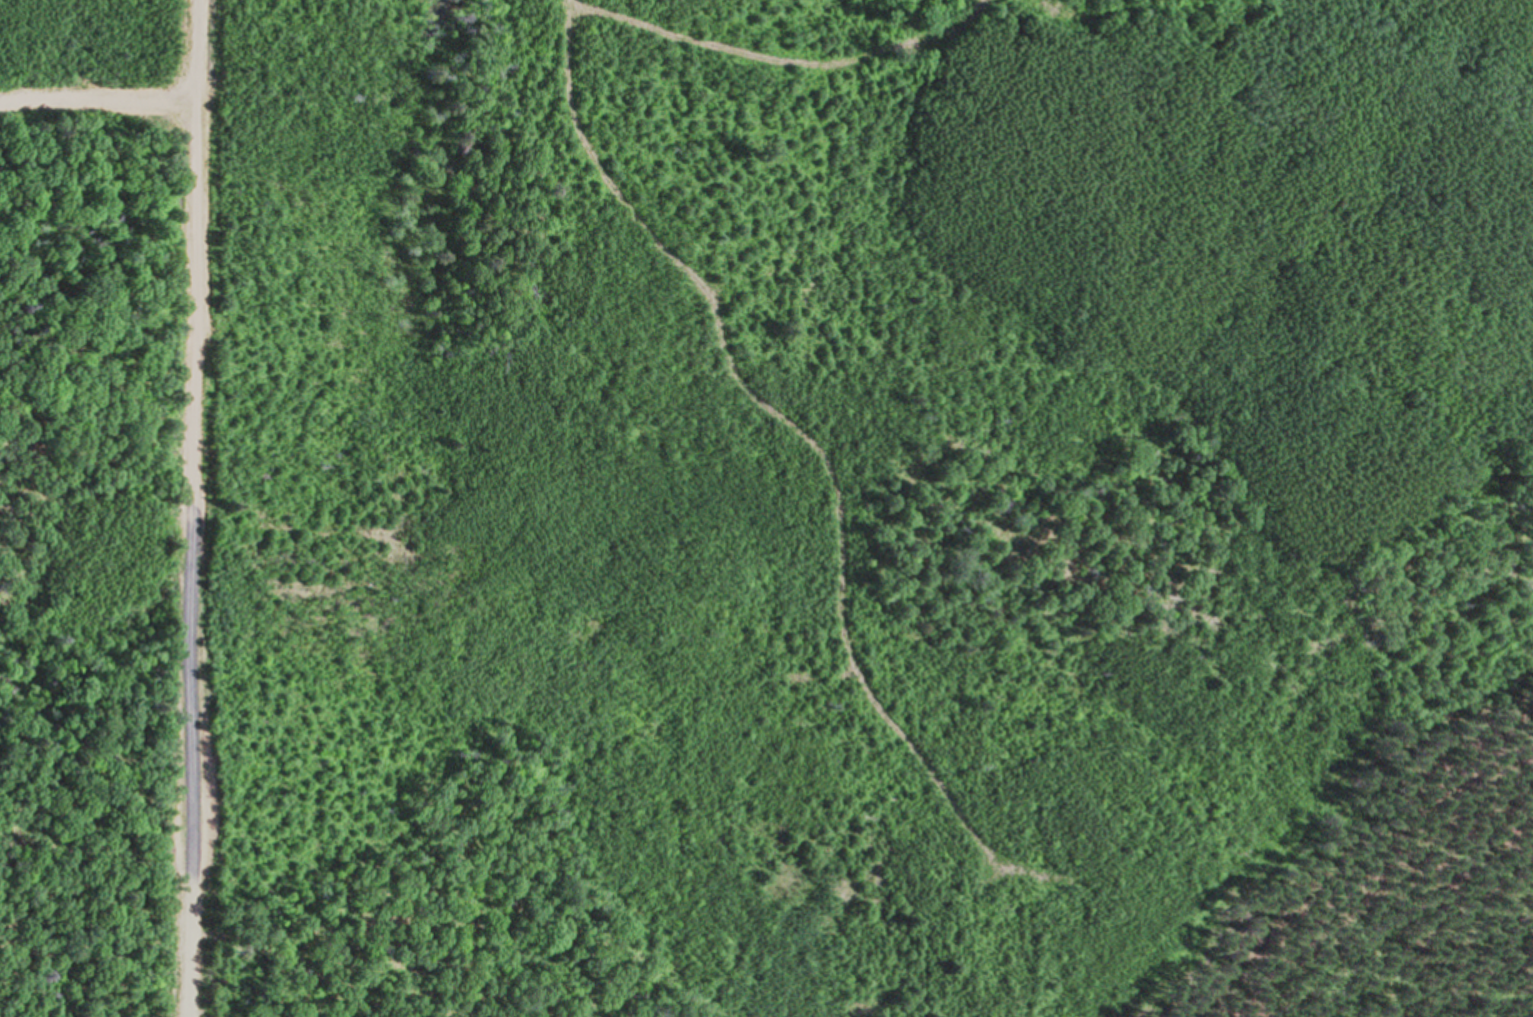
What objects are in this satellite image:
road: (98, 97)
road: (193, 508)

